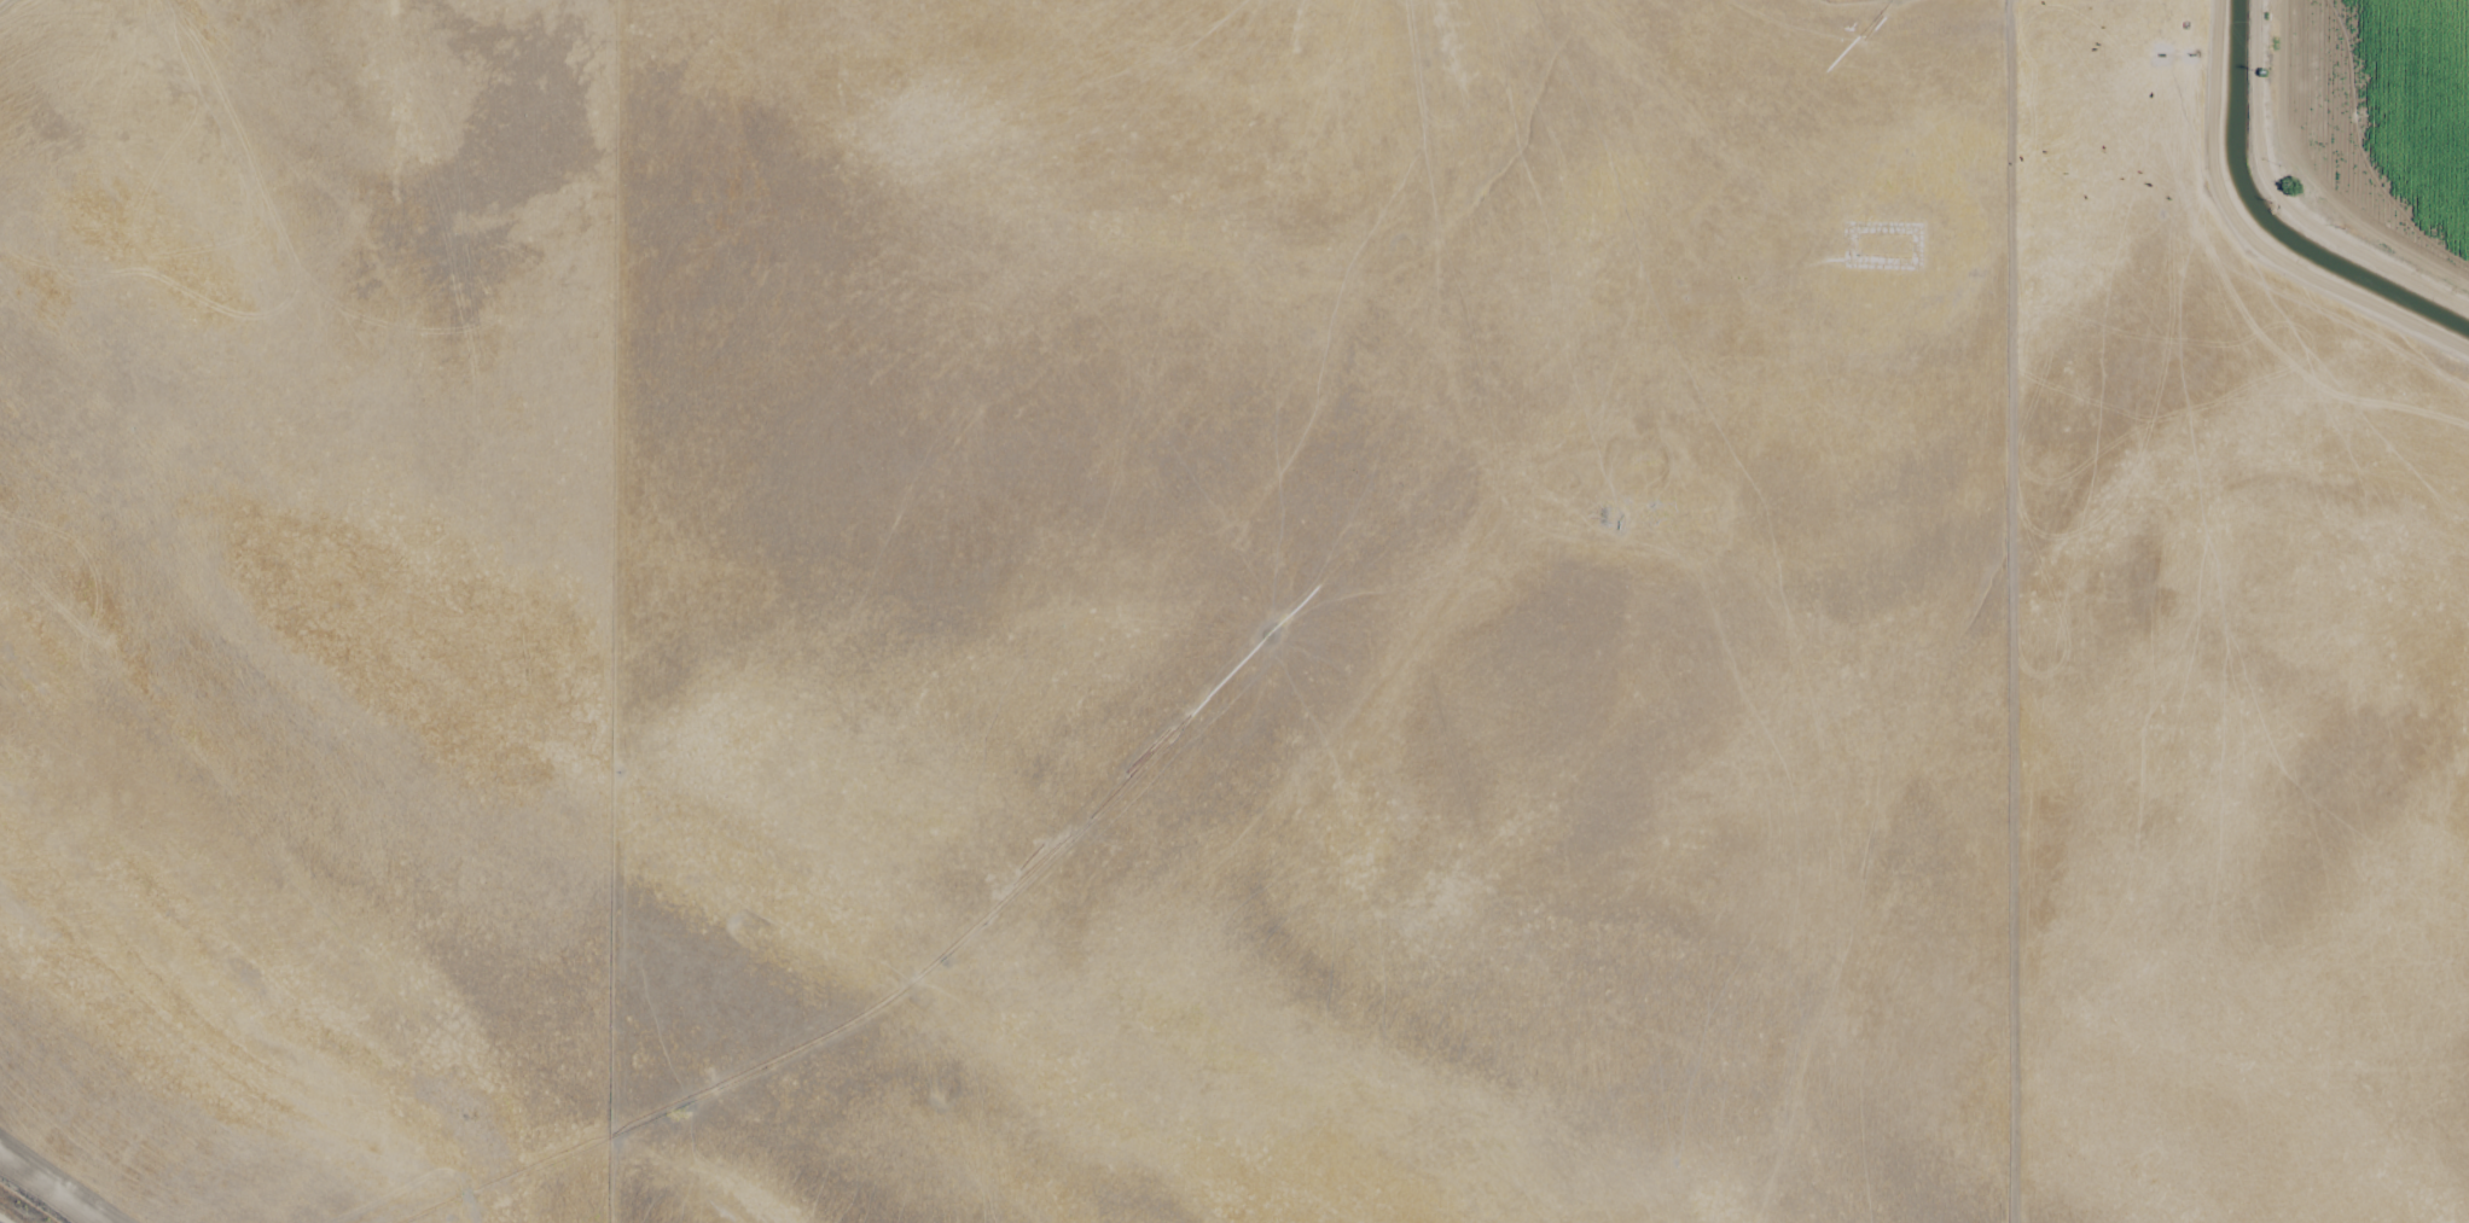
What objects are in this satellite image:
road: (2285, 205)
crop: (1234, 611)

